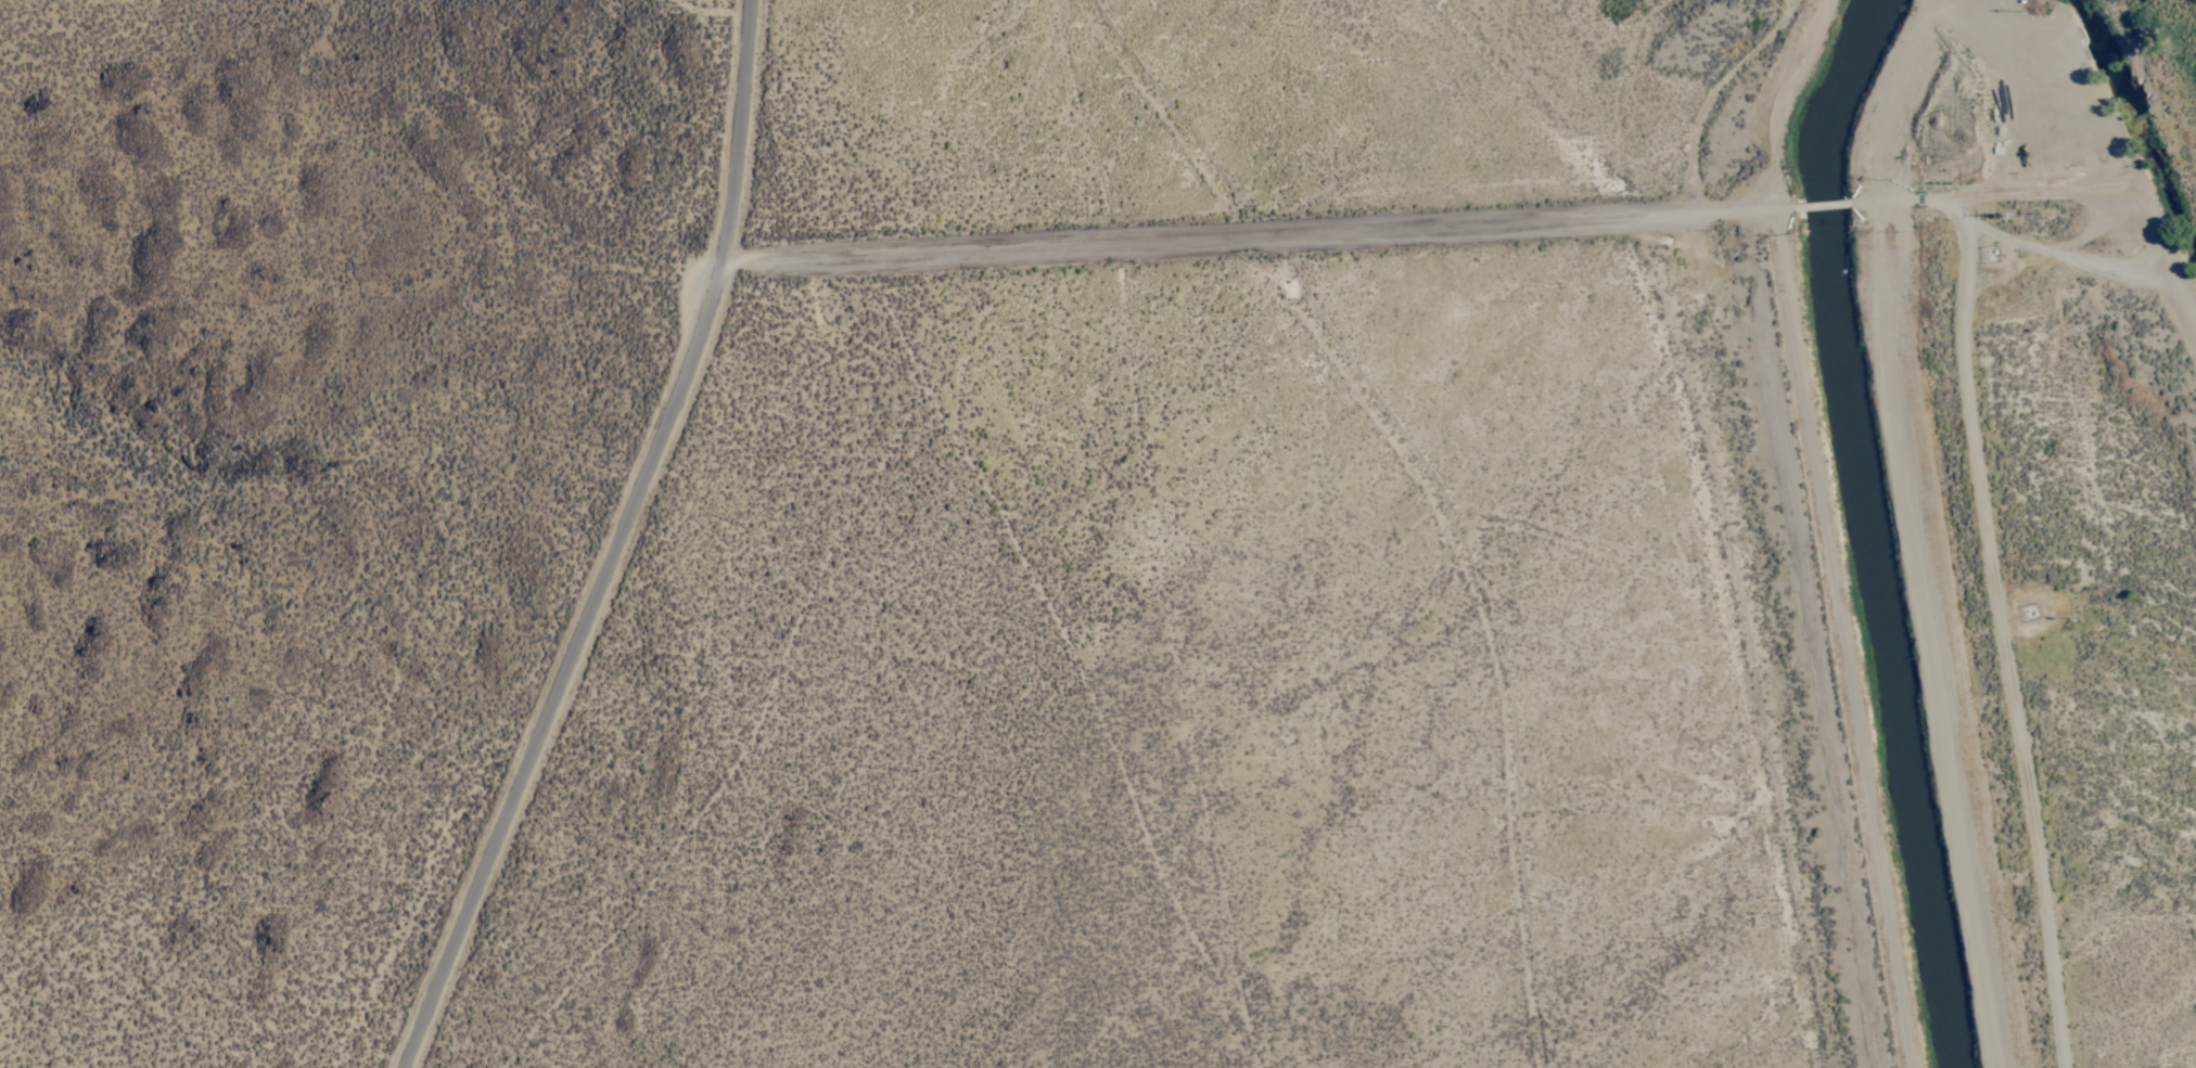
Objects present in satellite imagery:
road: (2111, 207)
road: (1826, 210)
road: (1741, 217)
road: (1211, 240)
road: (2013, 254)
road: (1830, 528)
road: (1923, 531)
road: (622, 544)
road: (2001, 651)

